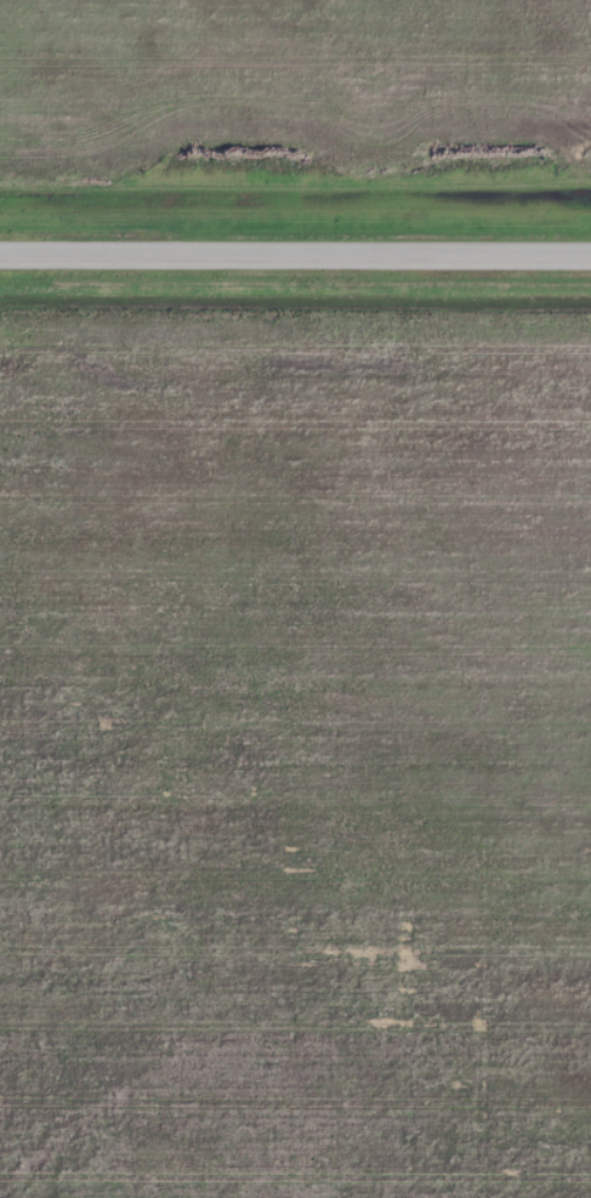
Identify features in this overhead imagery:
road: (295, 257)

